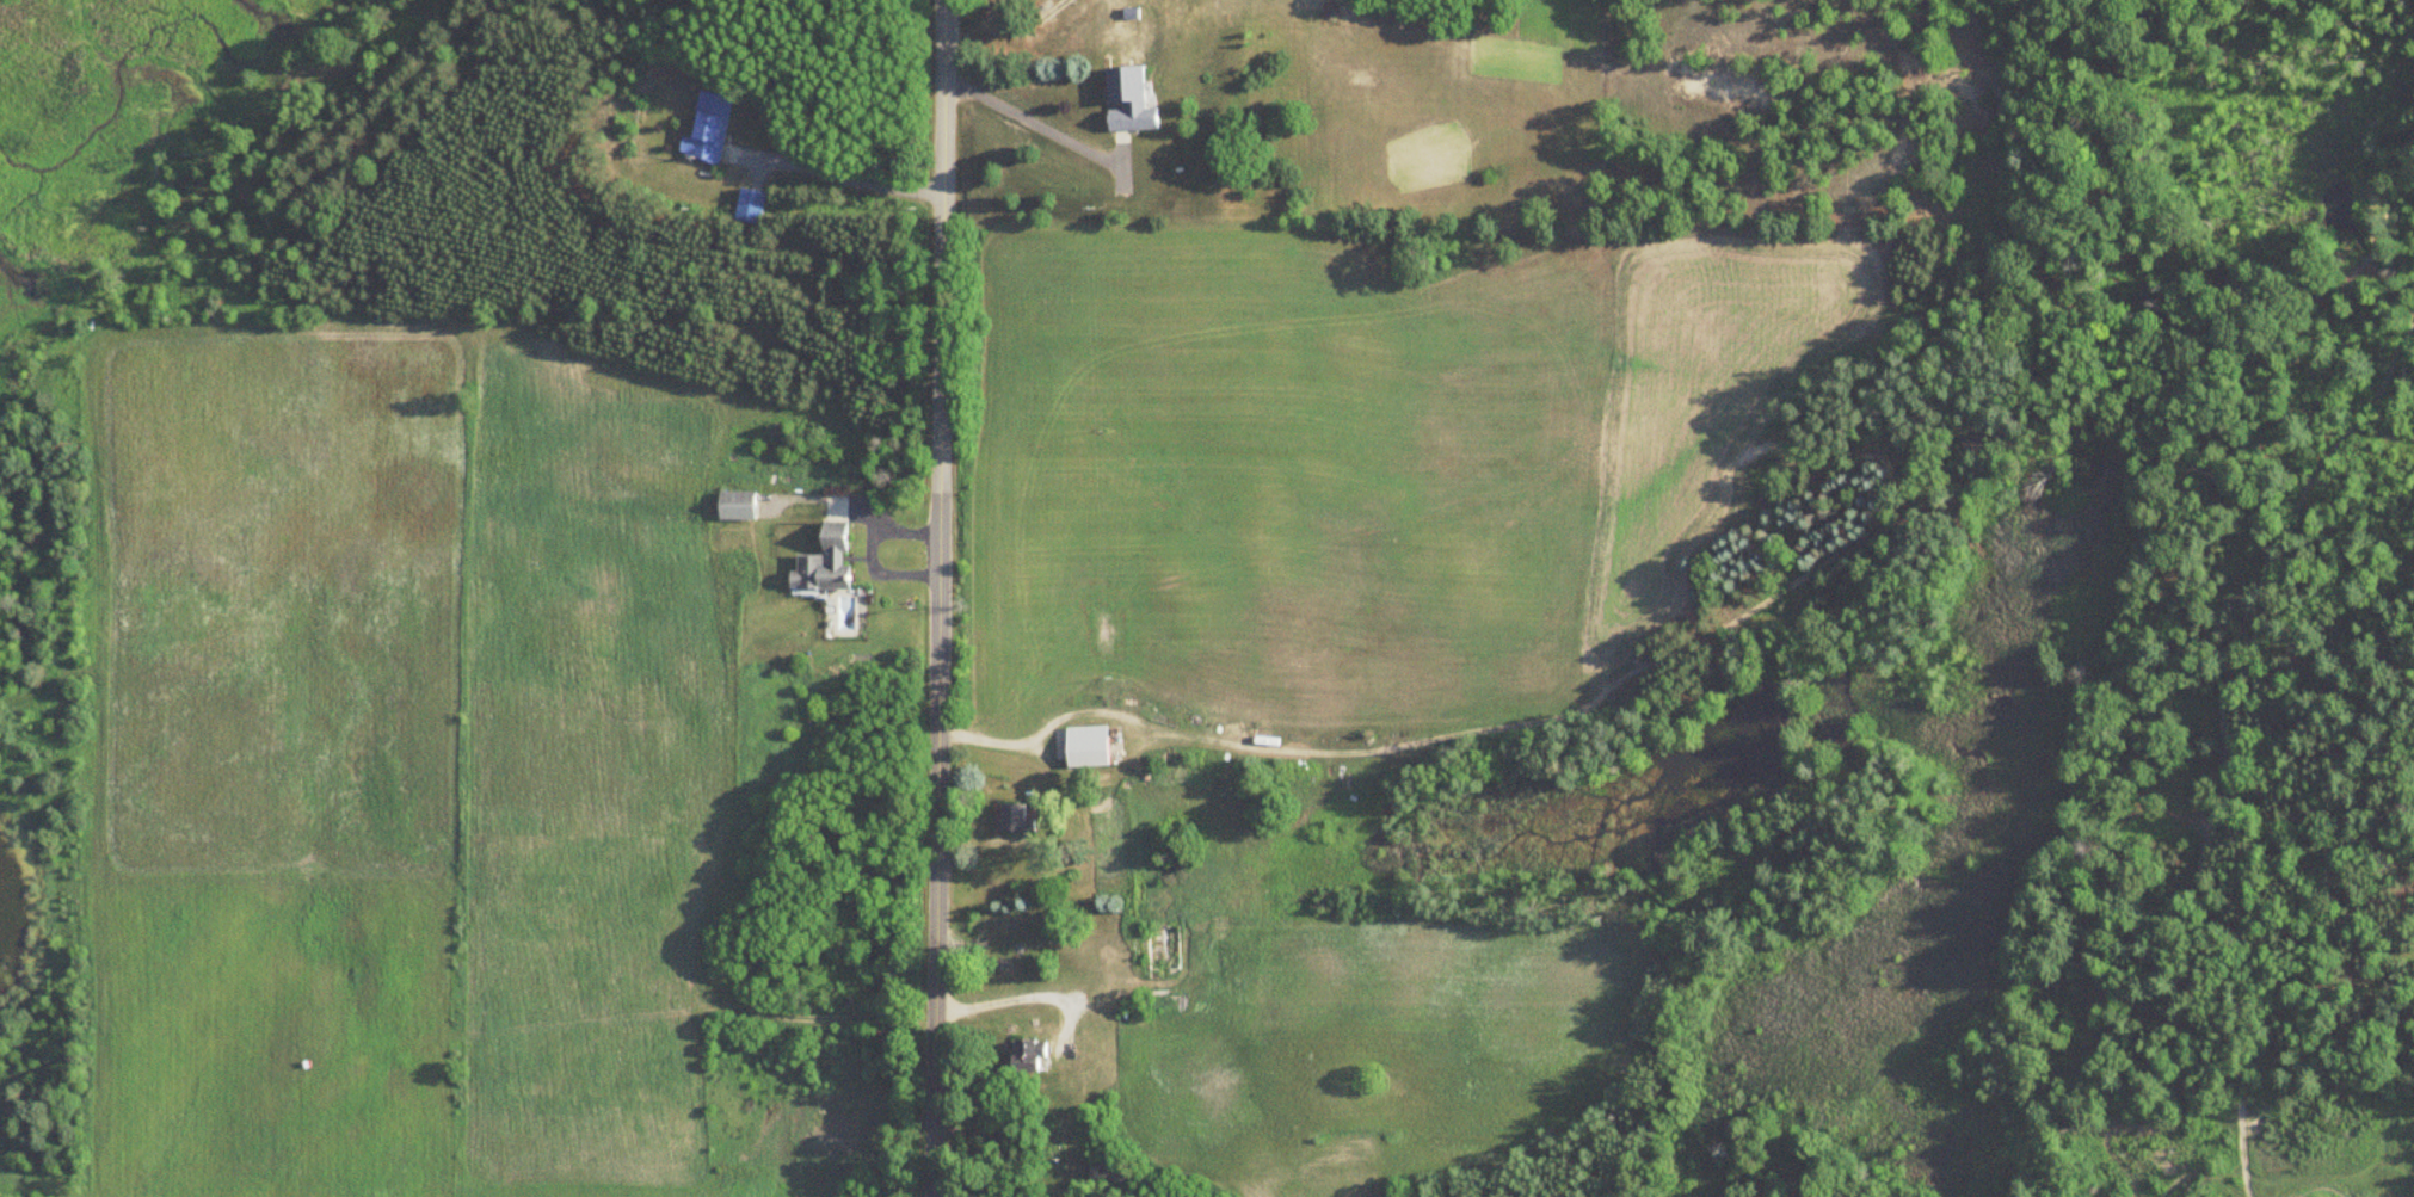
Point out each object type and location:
building: (1119, 99)
building: (708, 127)
building: (753, 204)
building: (739, 505)
building: (831, 559)
road: (934, 598)
building: (1090, 746)
building: (1016, 816)
crop: (265, 1042)
building: (1036, 1055)

